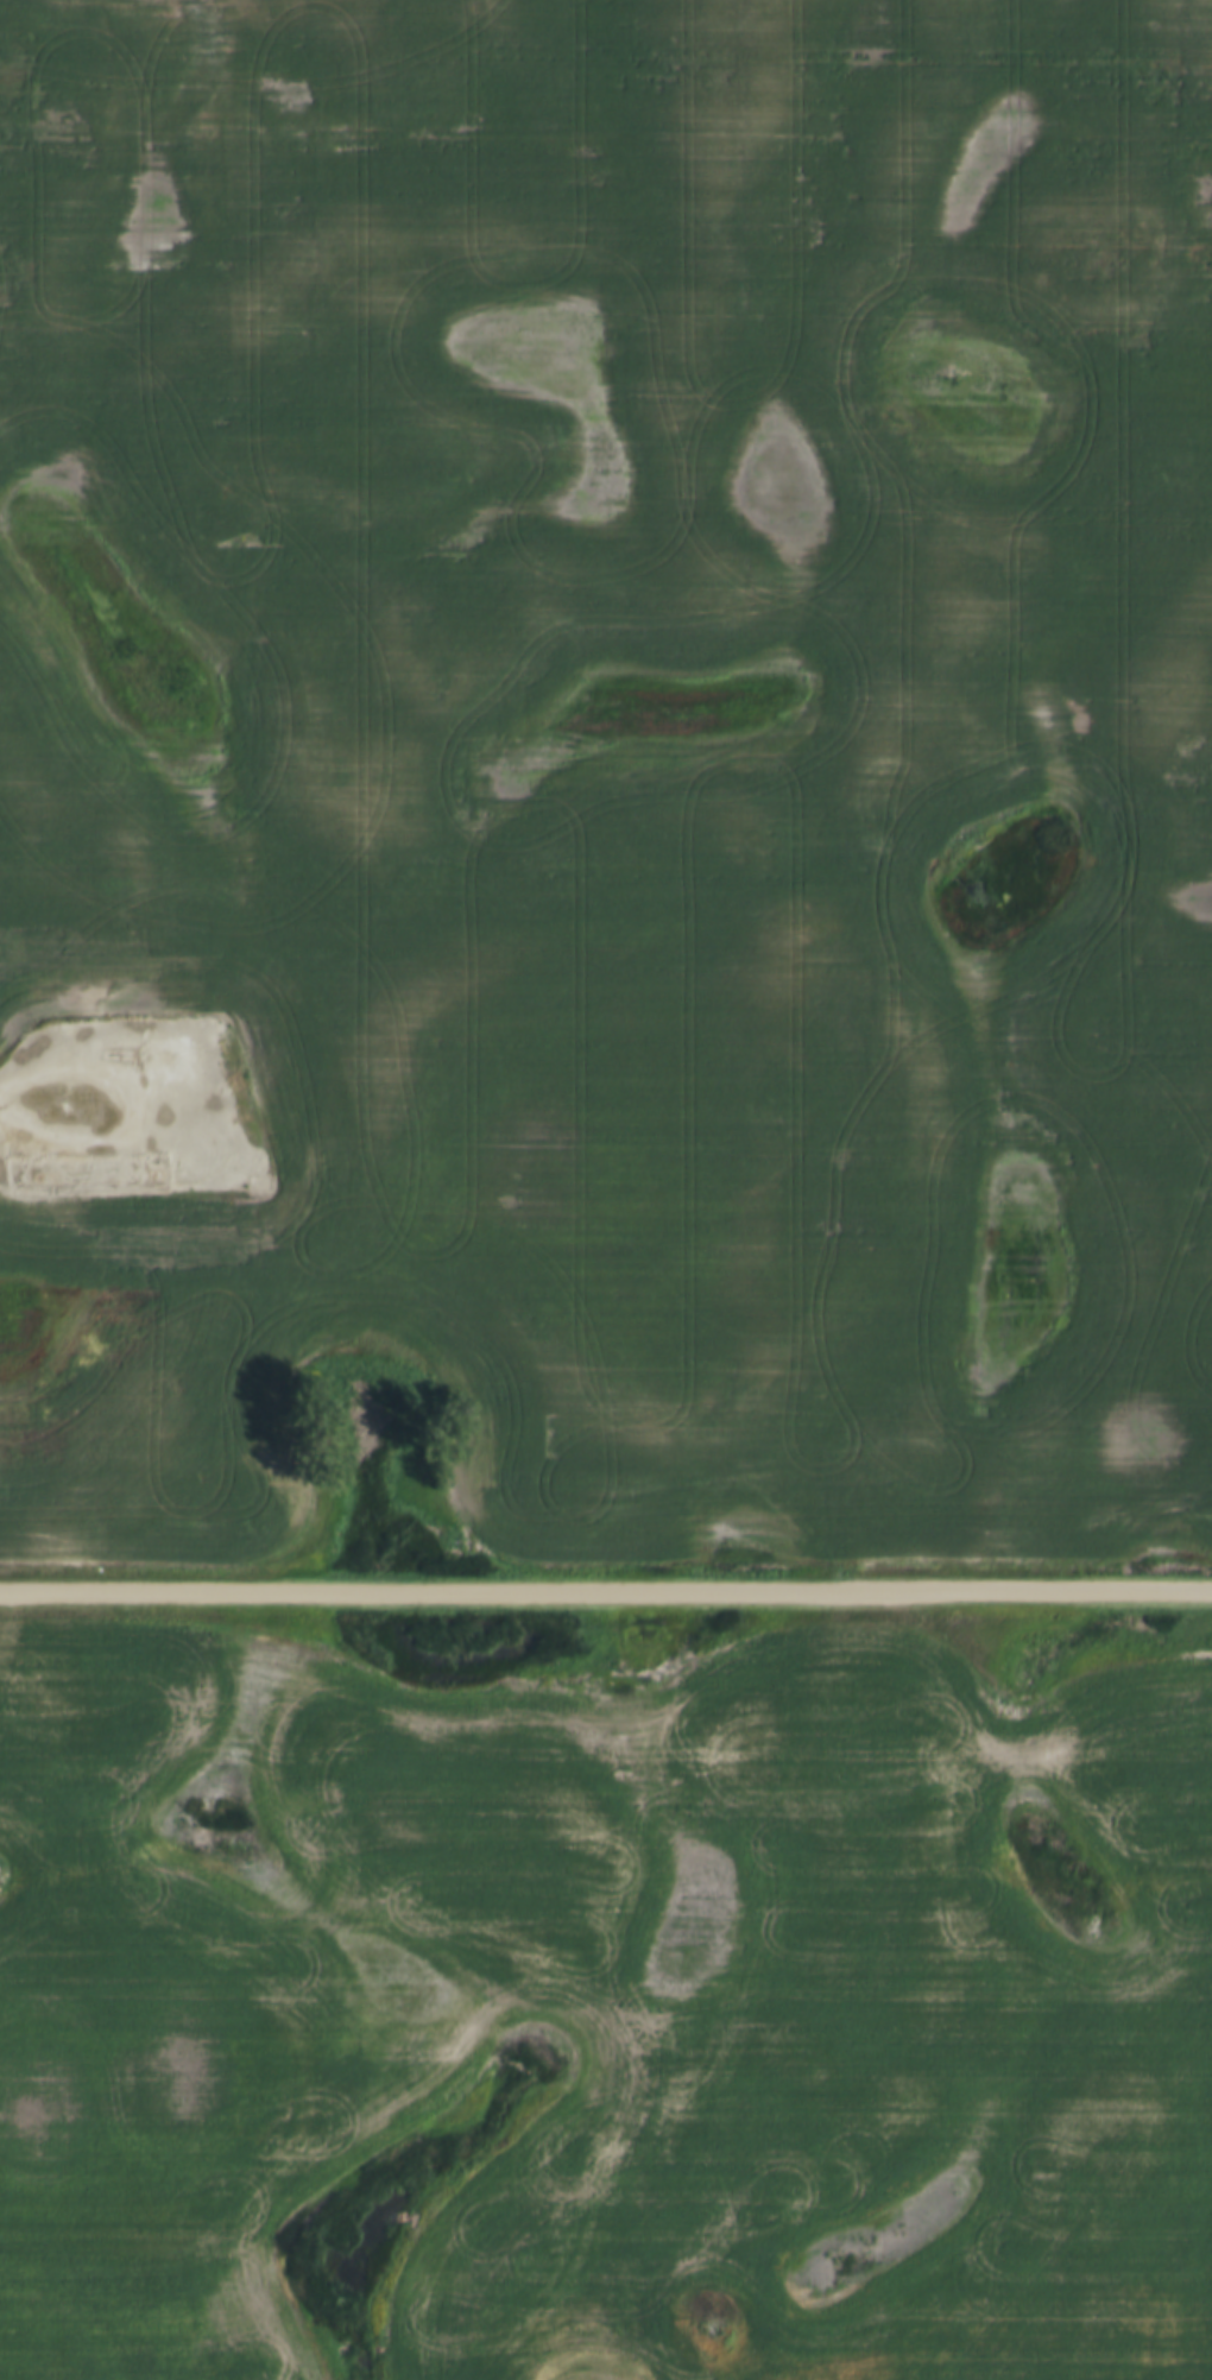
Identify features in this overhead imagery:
road: (59, 1050)
road: (606, 1596)

